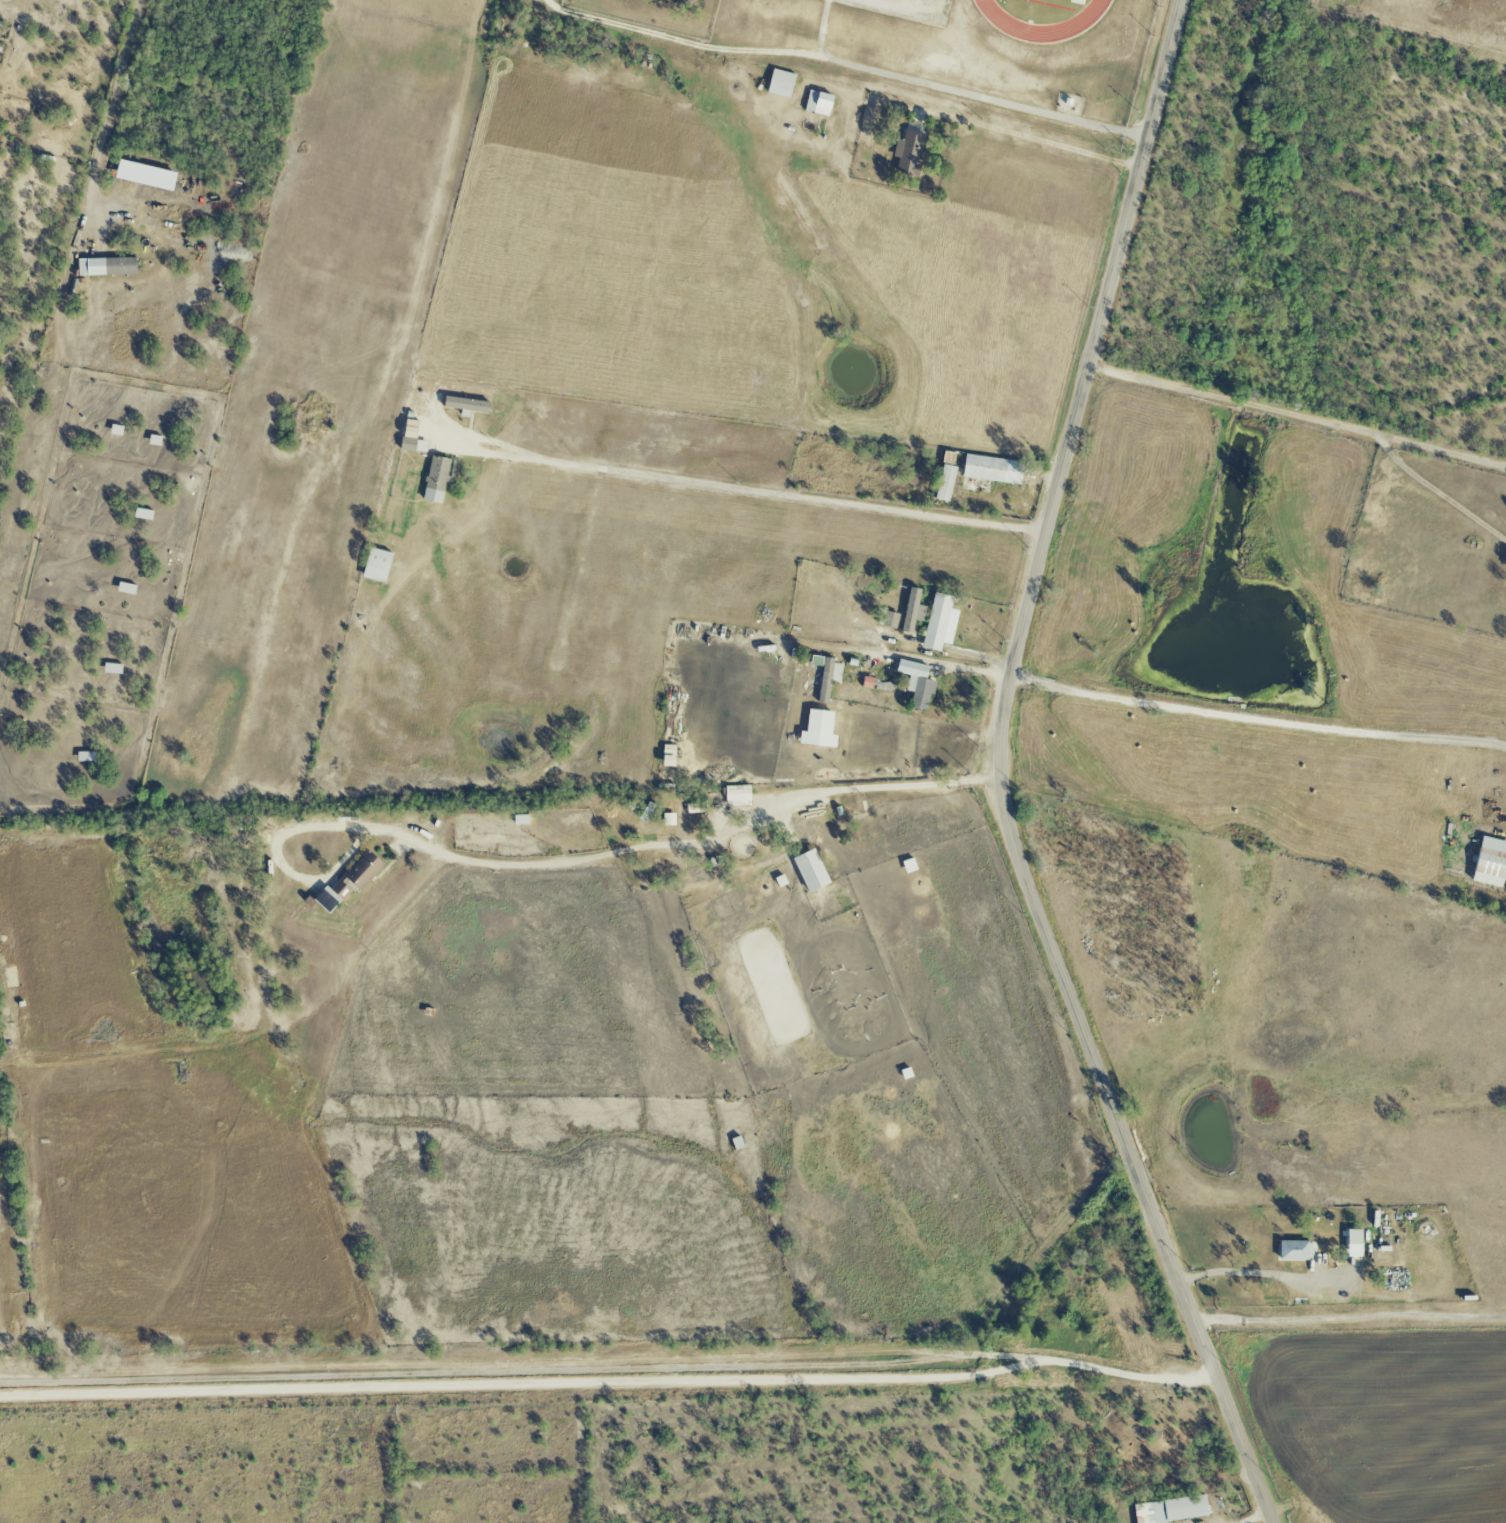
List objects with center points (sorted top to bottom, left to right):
road: (847, 64)
building: (780, 84)
building: (817, 104)
road: (106, 121)
road: (1038, 138)
building: (908, 154)
building: (144, 176)
building: (106, 267)
building: (465, 405)
road: (1297, 416)
building: (410, 438)
building: (991, 470)
building: (435, 480)
building: (945, 483)
road: (748, 491)
road: (1442, 492)
building: (142, 514)
building: (376, 566)
building: (125, 589)
building: (912, 612)
building: (938, 622)
road: (910, 660)
building: (111, 669)
building: (825, 676)
building: (916, 684)
road: (1257, 719)
building: (817, 730)
building: (85, 757)
road: (1000, 774)
building: (737, 796)
building: (520, 820)
road: (655, 846)
building: (1490, 863)
building: (810, 871)
building: (348, 883)
building: (1353, 1244)
building: (1292, 1251)
road: (1243, 1271)
road: (1349, 1315)
road: (522, 1370)
road: (608, 1379)
building: (1170, 1510)
road: (1254, 1518)

